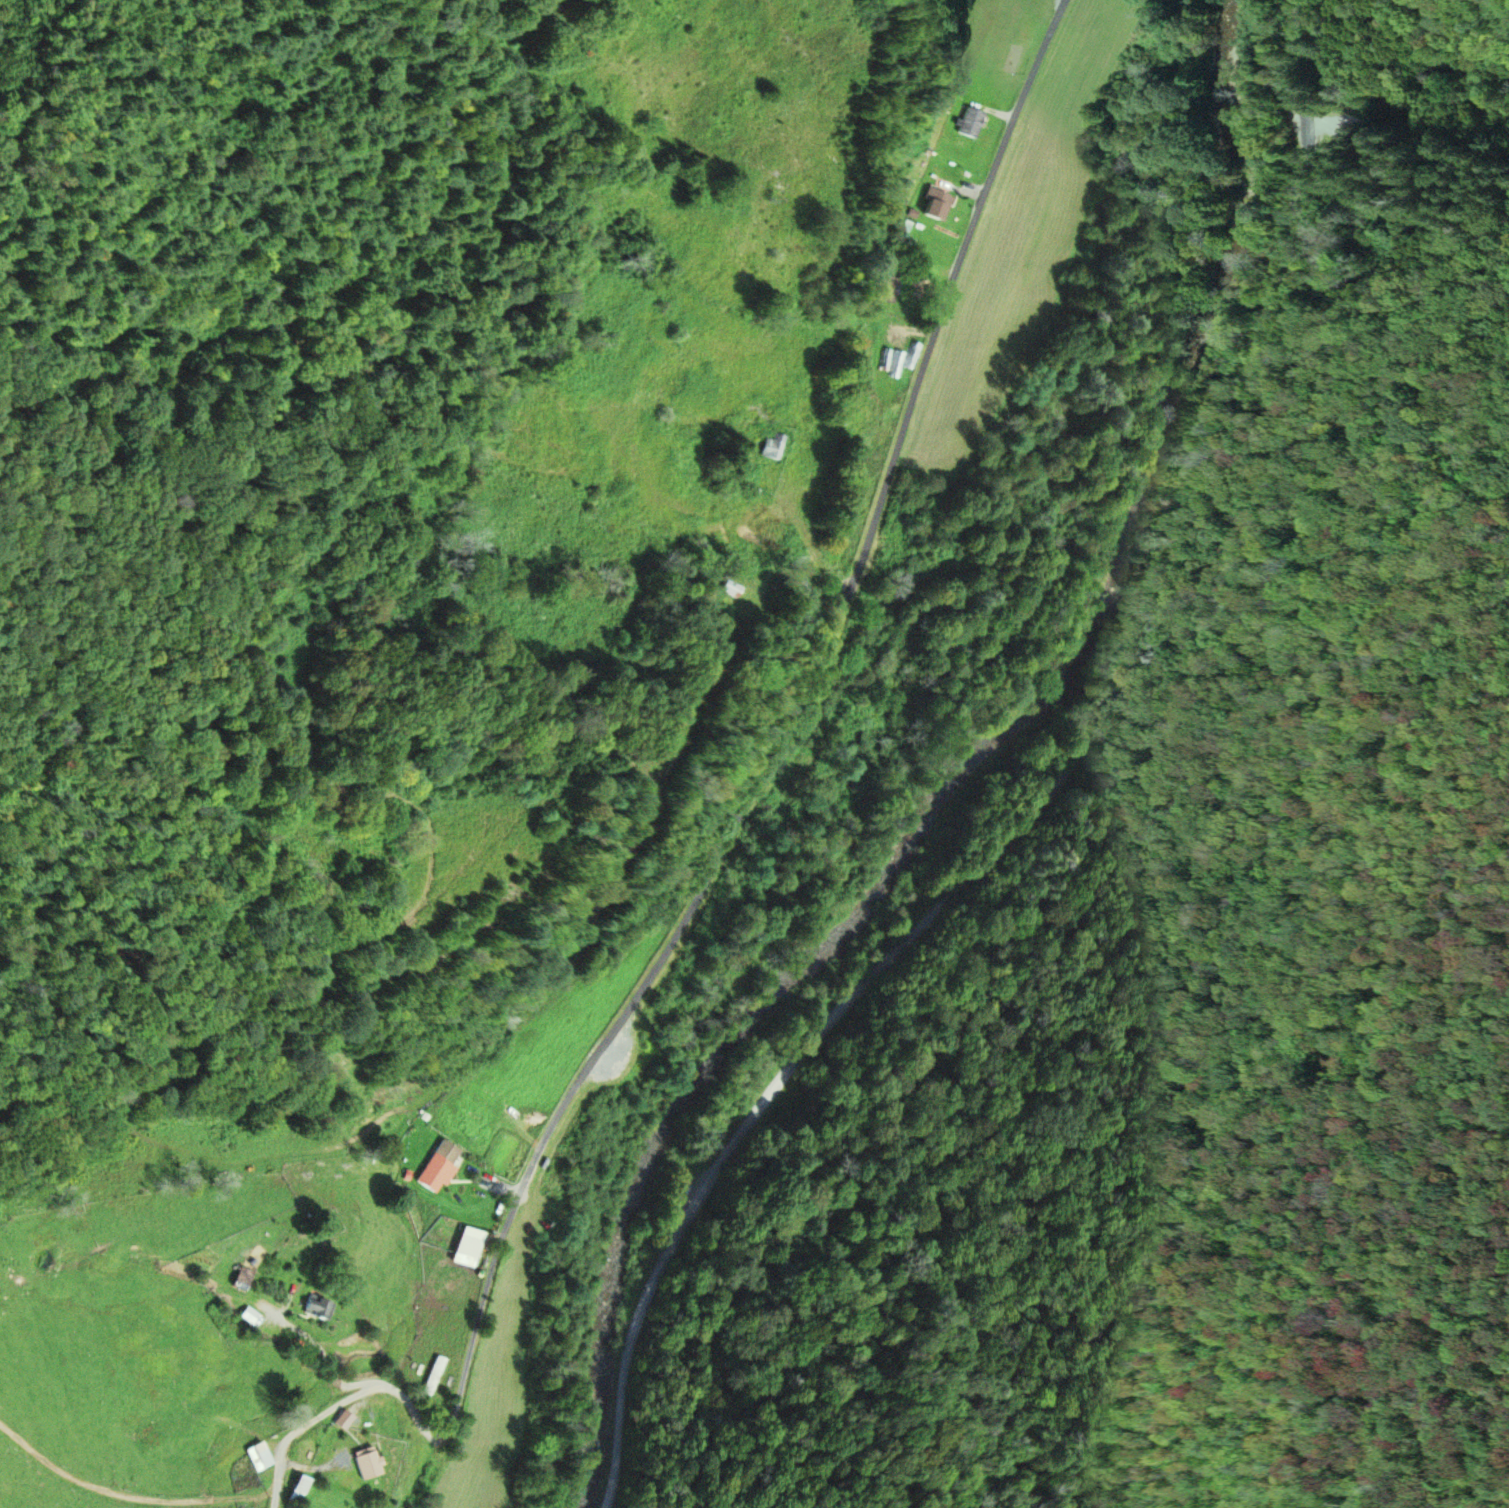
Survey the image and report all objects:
road: (34, 16)
building: (971, 123)
road: (1409, 134)
building: (936, 205)
building: (904, 242)
building: (890, 287)
building: (772, 447)
building: (731, 588)
river: (980, 785)
road: (1041, 790)
road: (722, 845)
building: (439, 1167)
building: (466, 1246)
building: (242, 1275)
building: (318, 1307)
building: (433, 1376)
building: (343, 1419)
building: (258, 1456)
building: (366, 1462)
building: (297, 1488)
road: (131, 1495)

